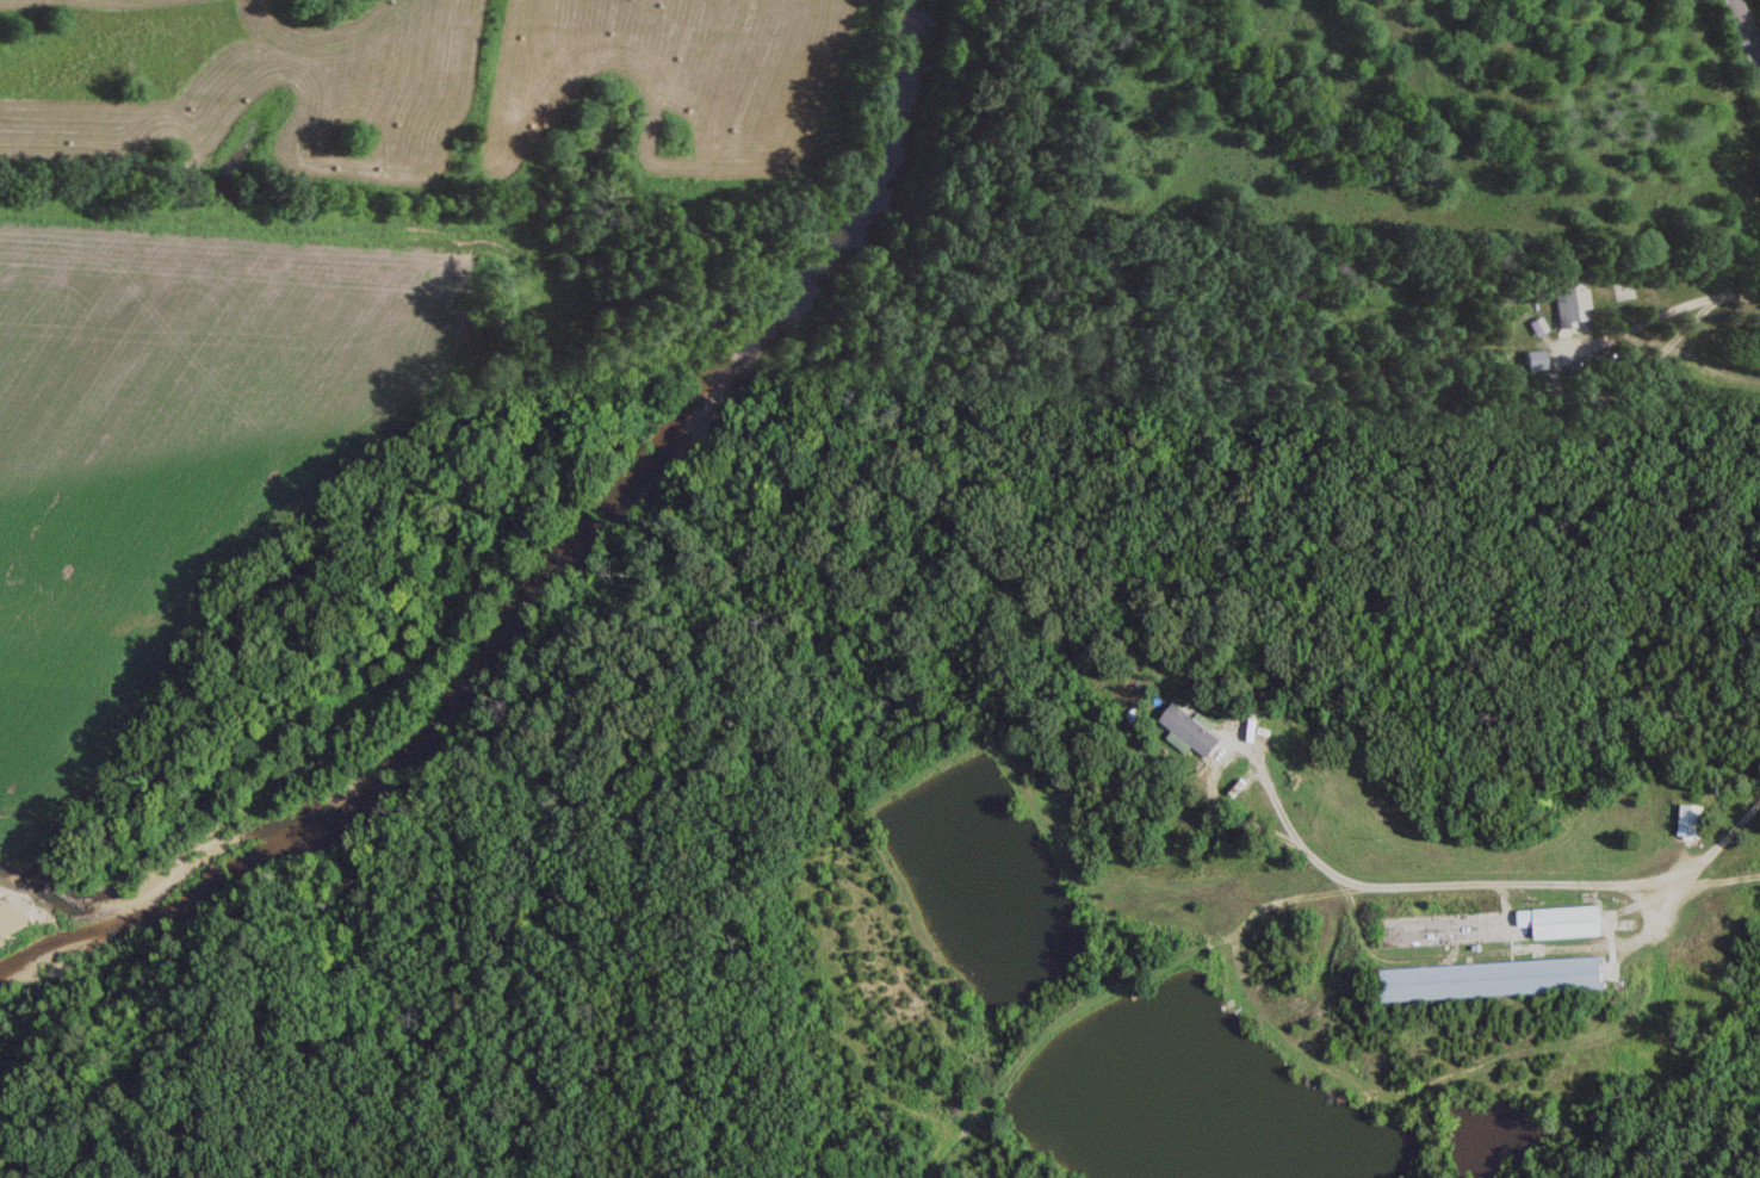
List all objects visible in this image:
road: (1746, 30)
building: (1622, 291)
building: (1572, 304)
road: (1517, 436)
river: (550, 576)
building: (1192, 730)
building: (1692, 819)
road: (1700, 882)
road: (1493, 885)
building: (1568, 919)
building: (1500, 975)

